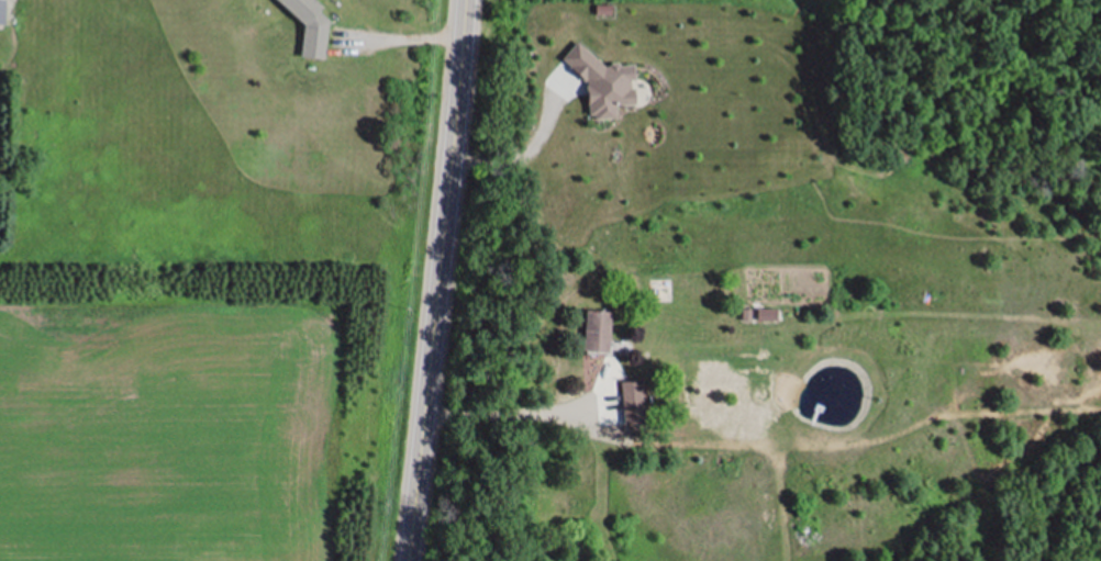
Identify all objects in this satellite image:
building: (1, 10)
building: (310, 26)
road: (409, 32)
road: (531, 148)
road: (441, 280)
building: (596, 332)
building: (633, 402)
road: (524, 405)

